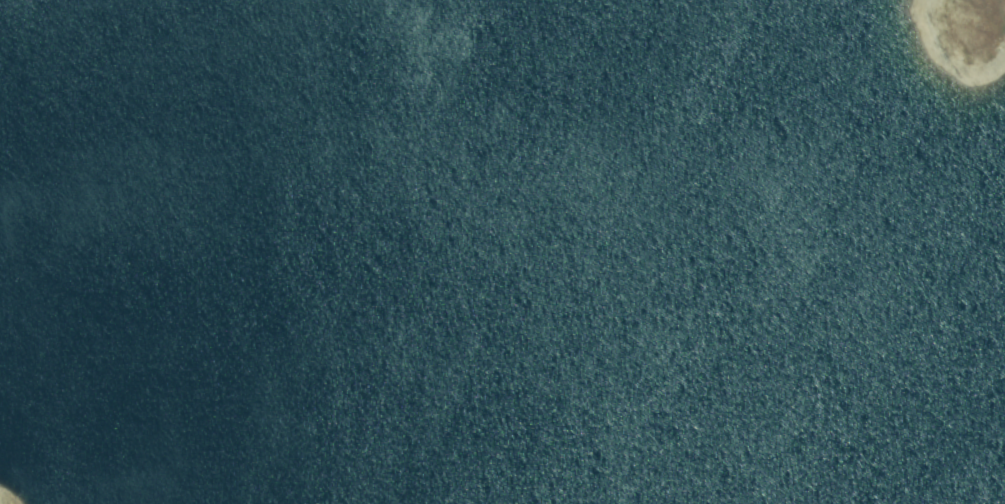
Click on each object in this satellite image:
river: (55, 401)

